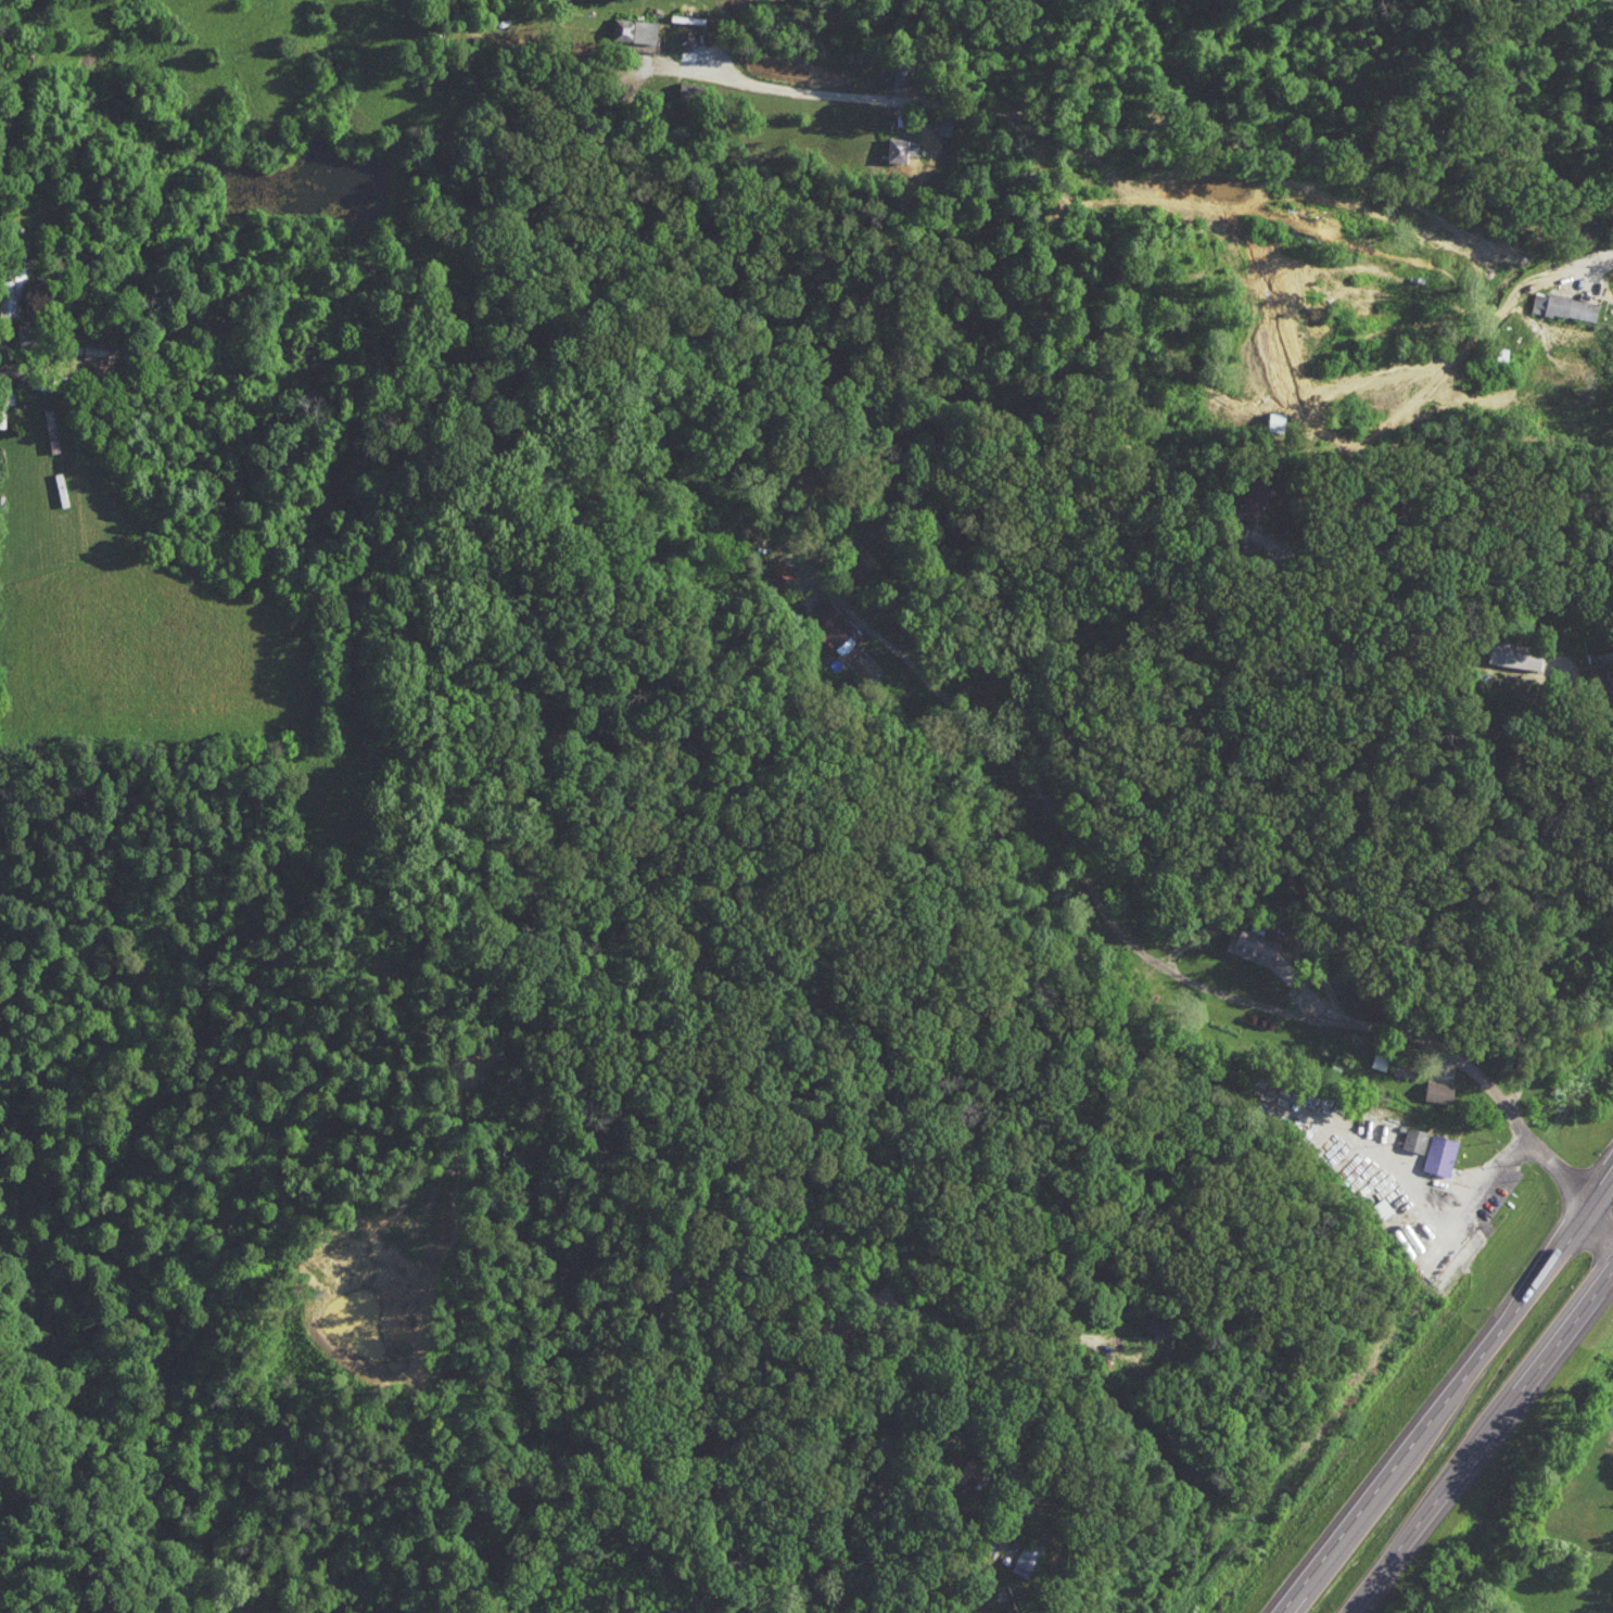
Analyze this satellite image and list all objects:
building: (635, 29)
building: (904, 73)
building: (949, 122)
road: (1127, 123)
building: (904, 148)
road: (1590, 265)
building: (1566, 305)
road: (3, 353)
building: (1255, 497)
building: (778, 574)
building: (829, 624)
building: (1603, 675)
road: (1600, 715)
road: (1189, 979)
building: (1441, 1091)
building: (1415, 1139)
building: (1440, 1154)
road: (1456, 1212)
road: (1602, 1225)
road: (707, 1270)
road: (1000, 1322)
building: (1157, 1326)
road: (1497, 1341)
road: (1486, 1447)
road: (1325, 1555)
building: (1026, 1559)

